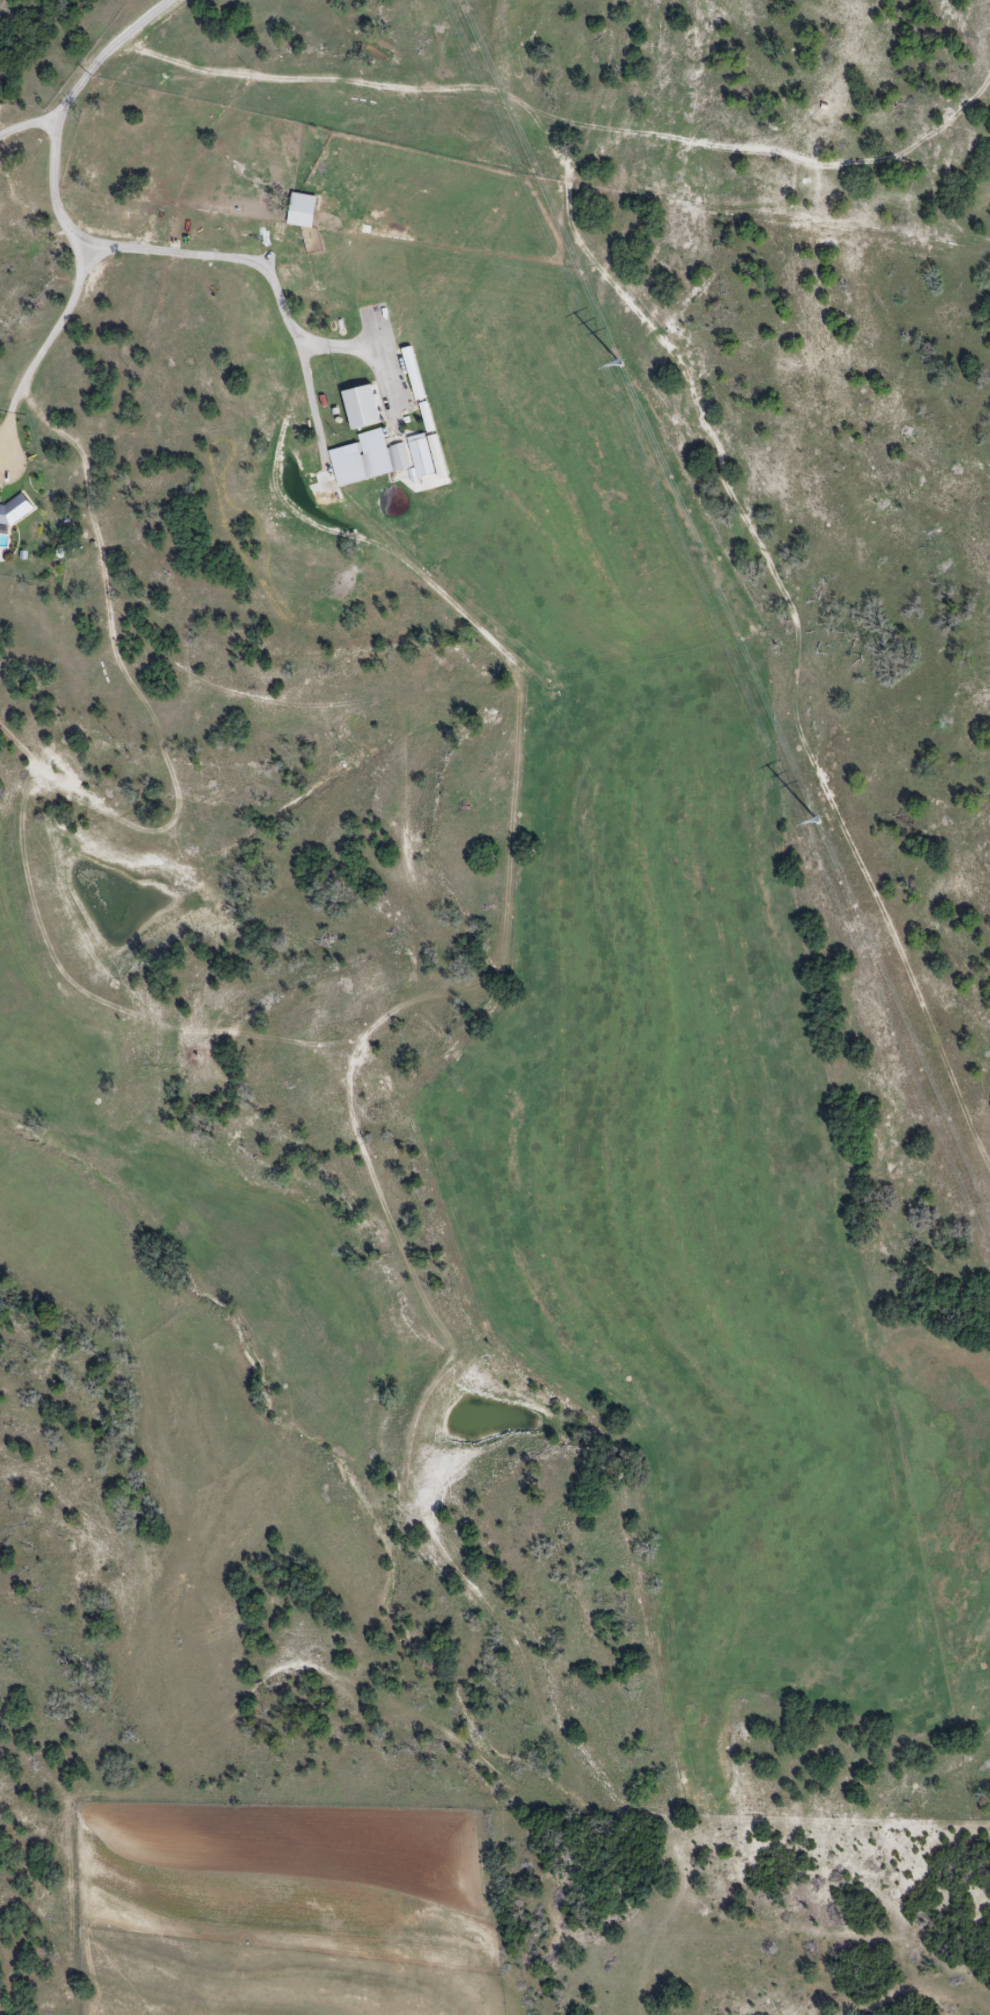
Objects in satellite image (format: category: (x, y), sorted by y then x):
road: (30, 126)
building: (301, 211)
building: (278, 233)
road: (75, 234)
power tower: (621, 367)
building: (361, 408)
building: (370, 438)
building: (420, 456)
building: (388, 461)
building: (14, 511)
power tower: (816, 823)

